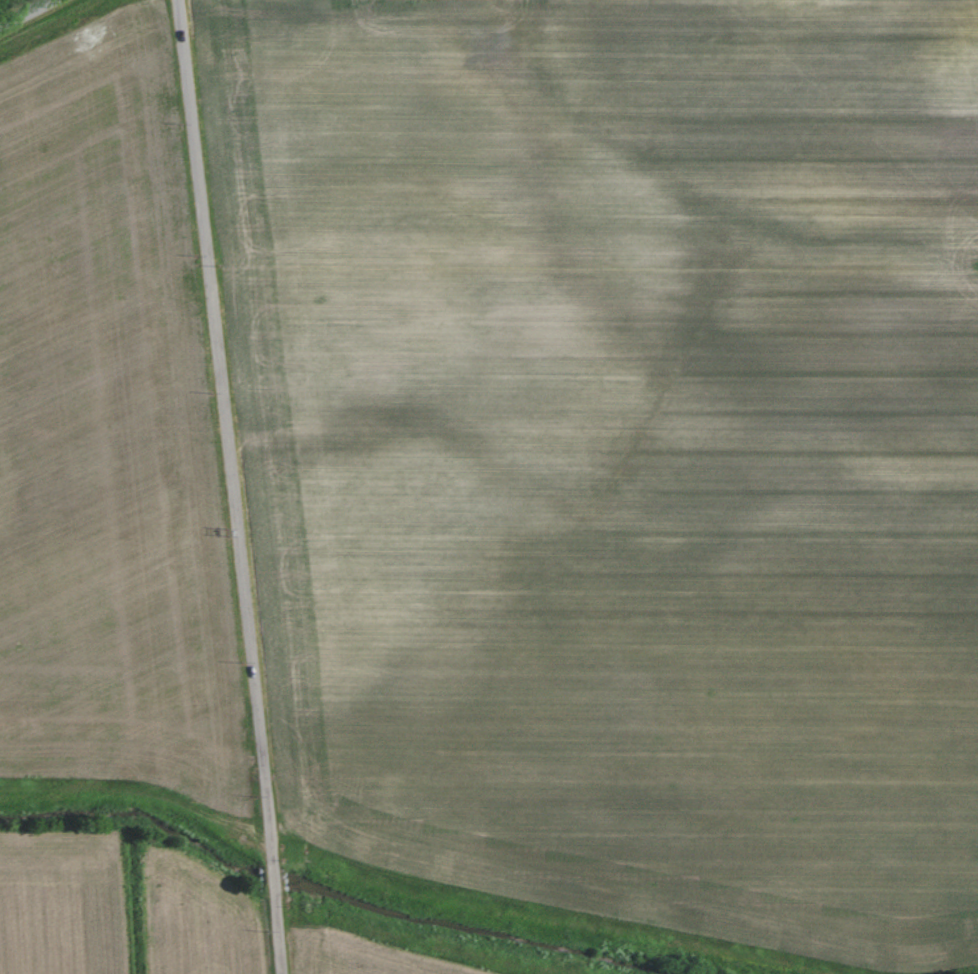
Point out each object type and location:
road: (20, 10)
road: (232, 486)

